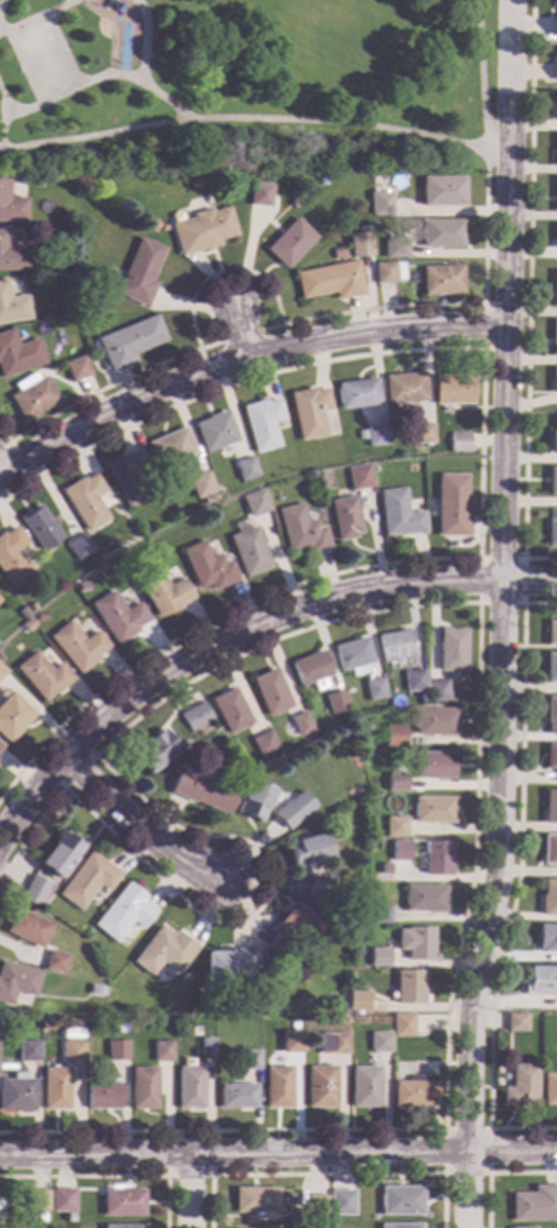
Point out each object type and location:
road: (34, 17)
building: (555, 27)
road: (62, 47)
park: (40, 58)
road: (21, 67)
road: (138, 70)
building: (555, 73)
road: (69, 87)
park: (244, 87)
building: (555, 106)
road: (1, 109)
road: (421, 132)
road: (96, 133)
building: (553, 152)
building: (441, 192)
building: (258, 194)
building: (555, 194)
building: (379, 204)
building: (10, 206)
building: (201, 231)
building: (439, 233)
building: (555, 237)
building: (357, 241)
building: (289, 243)
building: (393, 248)
building: (11, 256)
building: (386, 272)
building: (138, 273)
building: (329, 280)
building: (441, 280)
building: (553, 290)
road: (525, 295)
road: (274, 302)
building: (11, 306)
road: (235, 328)
road: (238, 335)
building: (553, 336)
building: (127, 342)
road: (481, 348)
building: (17, 354)
road: (239, 356)
building: (75, 369)
building: (552, 380)
building: (403, 388)
building: (451, 388)
building: (356, 394)
building: (33, 398)
building: (307, 411)
building: (261, 423)
building: (214, 432)
building: (359, 433)
building: (420, 433)
building: (375, 434)
road: (4, 436)
building: (553, 436)
building: (457, 442)
road: (4, 445)
building: (170, 448)
building: (244, 468)
road: (1, 471)
road: (478, 473)
building: (359, 477)
building: (127, 478)
building: (552, 481)
building: (200, 484)
road: (2, 496)
building: (208, 499)
building: (85, 501)
building: (254, 504)
building: (451, 506)
building: (397, 514)
building: (345, 518)
building: (39, 528)
building: (301, 530)
building: (552, 533)
building: (78, 547)
building: (249, 552)
building: (12, 557)
building: (206, 568)
building: (80, 587)
building: (163, 592)
road: (477, 601)
road: (439, 603)
building: (30, 608)
building: (21, 613)
road: (501, 614)
building: (118, 616)
building: (40, 618)
building: (27, 626)
road: (240, 630)
building: (551, 632)
building: (78, 646)
building: (394, 646)
building: (451, 649)
building: (351, 656)
building: (550, 667)
building: (309, 671)
building: (1, 672)
building: (42, 676)
building: (413, 680)
building: (374, 689)
building: (437, 692)
building: (271, 693)
building: (335, 701)
building: (231, 710)
building: (550, 716)
building: (12, 717)
building: (195, 717)
building: (433, 722)
building: (301, 723)
building: (393, 737)
building: (263, 744)
building: (0, 746)
building: (155, 751)
building: (550, 758)
building: (433, 766)
road: (78, 772)
building: (396, 783)
building: (203, 791)
building: (255, 801)
building: (550, 807)
building: (433, 809)
building: (288, 814)
building: (394, 826)
road: (136, 828)
building: (549, 849)
building: (308, 851)
building: (399, 851)
building: (59, 855)
building: (437, 858)
building: (387, 869)
building: (86, 881)
road: (515, 883)
building: (319, 888)
building: (34, 892)
building: (424, 898)
building: (549, 898)
building: (124, 914)
building: (377, 914)
building: (27, 927)
building: (295, 929)
building: (546, 938)
building: (415, 943)
building: (164, 951)
building: (379, 957)
building: (245, 961)
building: (56, 962)
building: (217, 972)
building: (186, 978)
building: (540, 980)
building: (16, 982)
building: (408, 988)
building: (96, 991)
building: (239, 1001)
building: (358, 1001)
building: (534, 1018)
building: (516, 1023)
building: (403, 1025)
building: (115, 1029)
building: (194, 1031)
building: (291, 1042)
building: (379, 1042)
building: (331, 1044)
building: (27, 1050)
building: (205, 1050)
building: (115, 1051)
building: (160, 1051)
building: (70, 1052)
building: (250, 1059)
building: (320, 1086)
building: (521, 1086)
building: (189, 1087)
building: (277, 1087)
building: (364, 1087)
building: (55, 1088)
building: (142, 1088)
building: (549, 1090)
building: (414, 1092)
building: (16, 1093)
building: (237, 1096)
building: (103, 1097)
road: (487, 1128)
road: (278, 1154)
road: (494, 1172)
road: (166, 1175)
road: (326, 1175)
road: (109, 1176)
road: (187, 1192)
building: (87, 1196)
building: (36, 1200)
building: (62, 1200)
building: (255, 1200)
building: (288, 1201)
building: (400, 1201)
building: (123, 1204)
building: (341, 1204)
building: (316, 1205)
building: (534, 1205)
building: (68, 1220)
building: (399, 1226)
building: (123, 1227)
building: (522, 1227)

